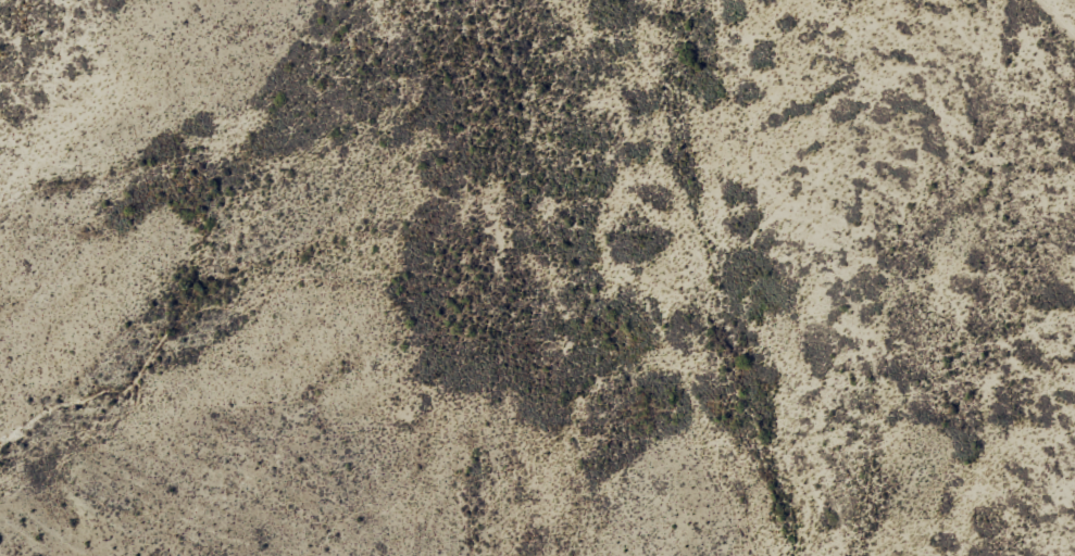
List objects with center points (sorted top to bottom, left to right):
road: (1066, 9)

